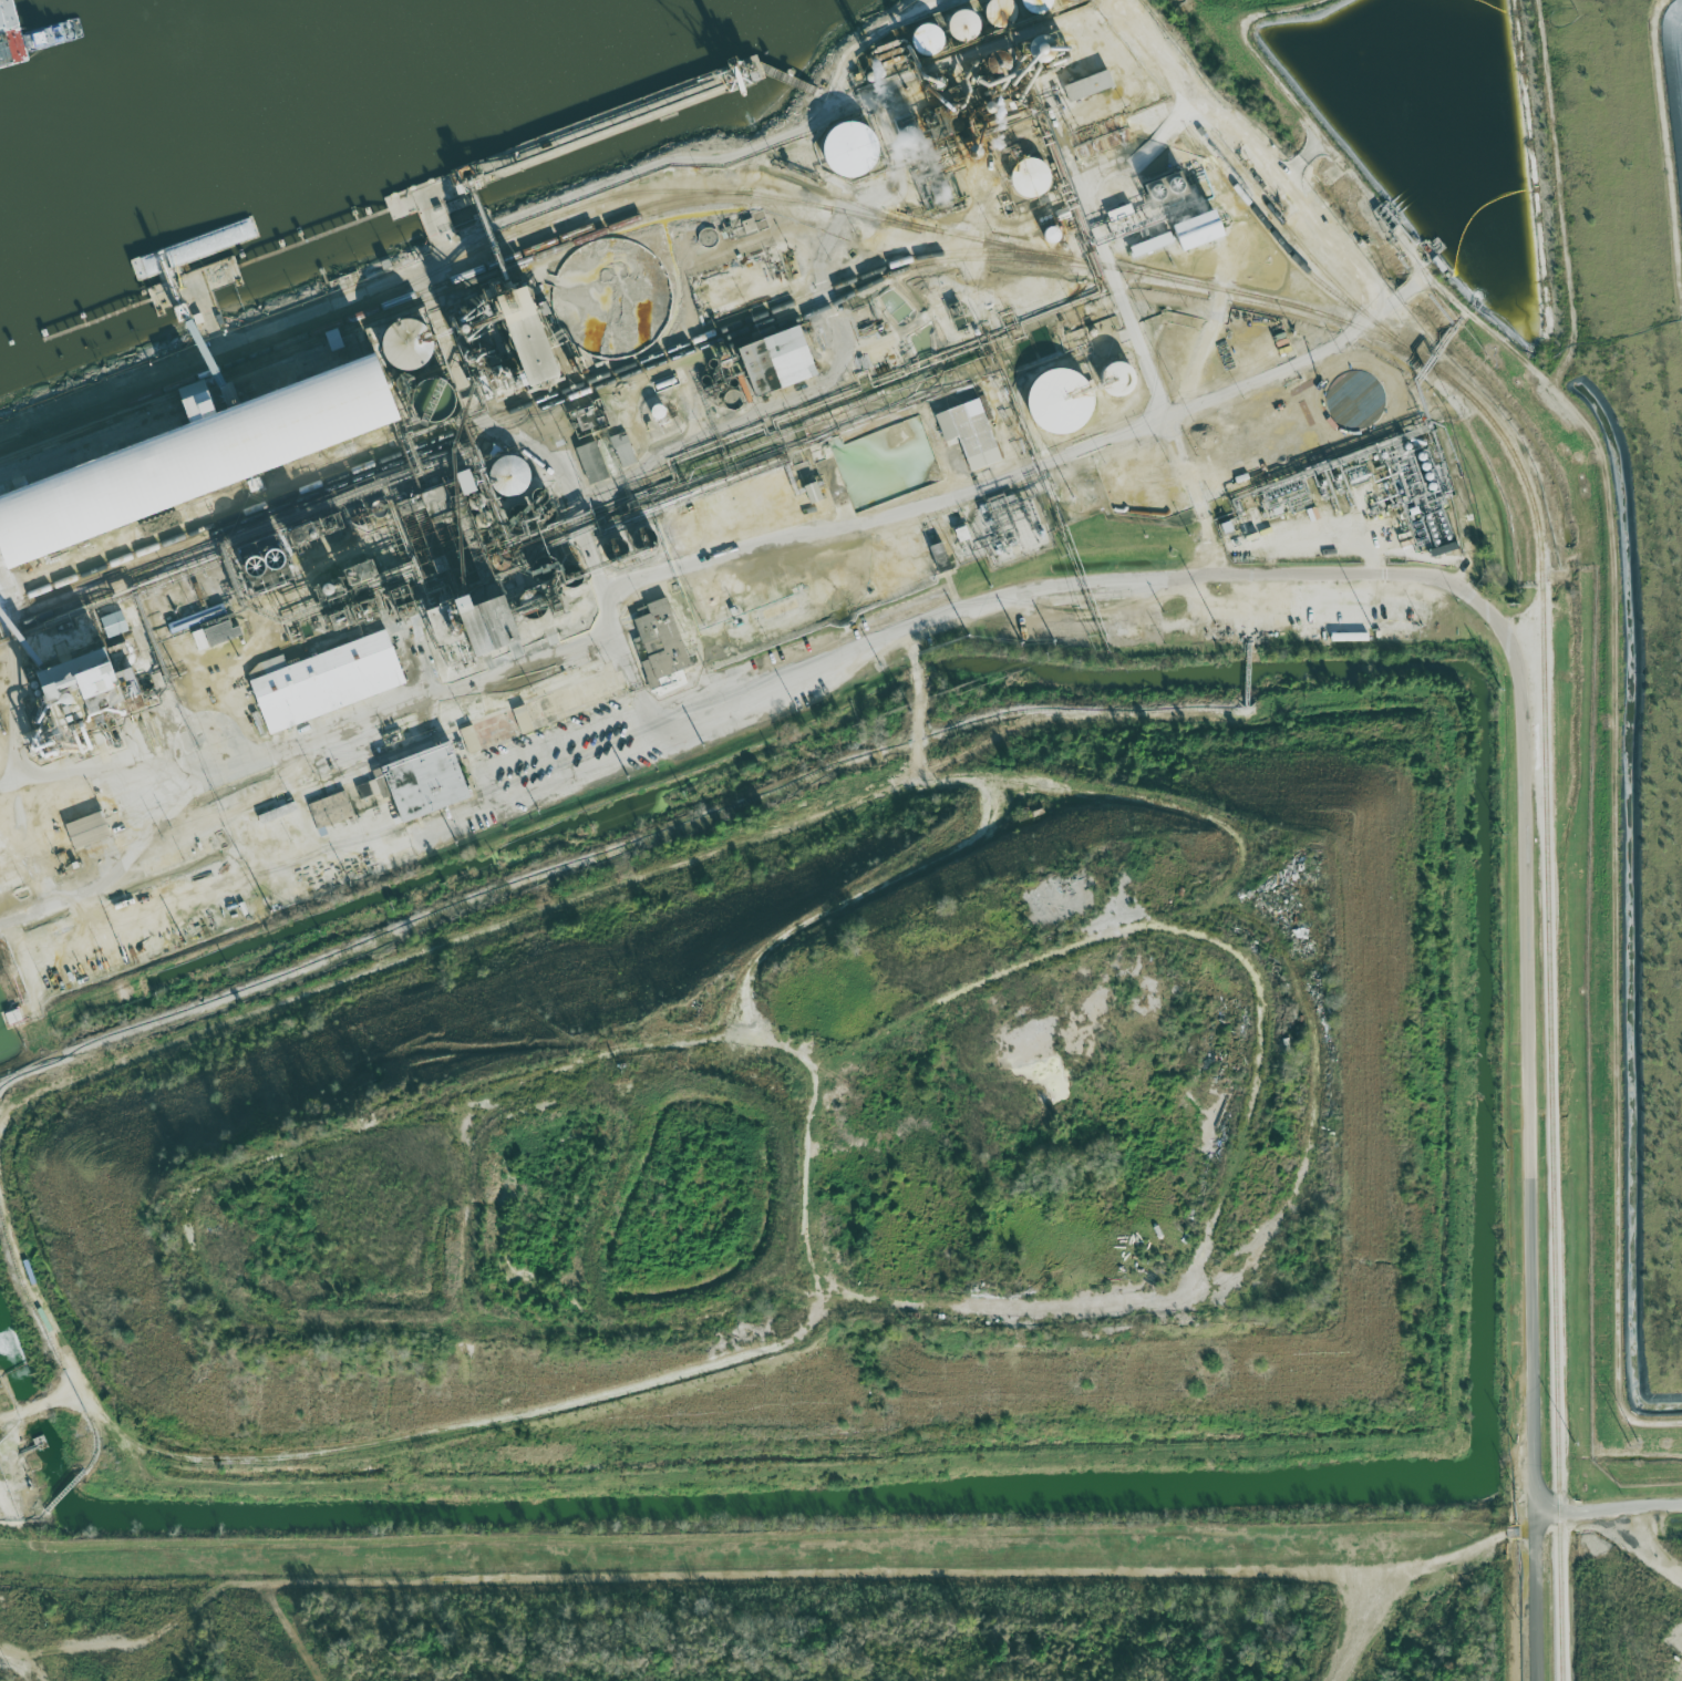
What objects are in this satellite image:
building: (1042, 6)
building: (1005, 12)
building: (969, 23)
building: (932, 38)
river: (184, 78)
building: (1091, 85)
building: (857, 148)
building: (1036, 177)
railway: (710, 193)
railway: (845, 200)
building: (1122, 214)
building: (1207, 230)
road: (493, 231)
railway: (1297, 241)
building: (1156, 244)
railway: (1288, 251)
railway: (372, 301)
railway: (410, 305)
railway: (801, 316)
building: (413, 346)
road: (1139, 347)
building: (550, 348)
building: (783, 361)
railway: (563, 400)
railway: (529, 401)
building: (1063, 401)
railway: (515, 413)
building: (971, 433)
road: (1122, 434)
building: (623, 448)
building: (197, 456)
building: (592, 462)
building: (515, 476)
road: (1193, 494)
building: (940, 557)
road: (1374, 558)
road: (1155, 580)
railway: (113, 586)
building: (116, 623)
building: (503, 625)
building: (455, 626)
building: (1350, 637)
building: (660, 642)
building: (328, 680)
building: (99, 681)
building: (524, 719)
road: (322, 739)
building: (471, 740)
road: (540, 744)
building: (422, 783)
road: (1147, 805)
building: (331, 811)
building: (89, 831)
road: (453, 947)
railway: (1548, 1010)
road: (1317, 1090)
road: (991, 1310)
road: (51, 1339)
road: (1609, 1510)
road: (1642, 1547)
road: (1405, 1565)
road: (698, 1569)

